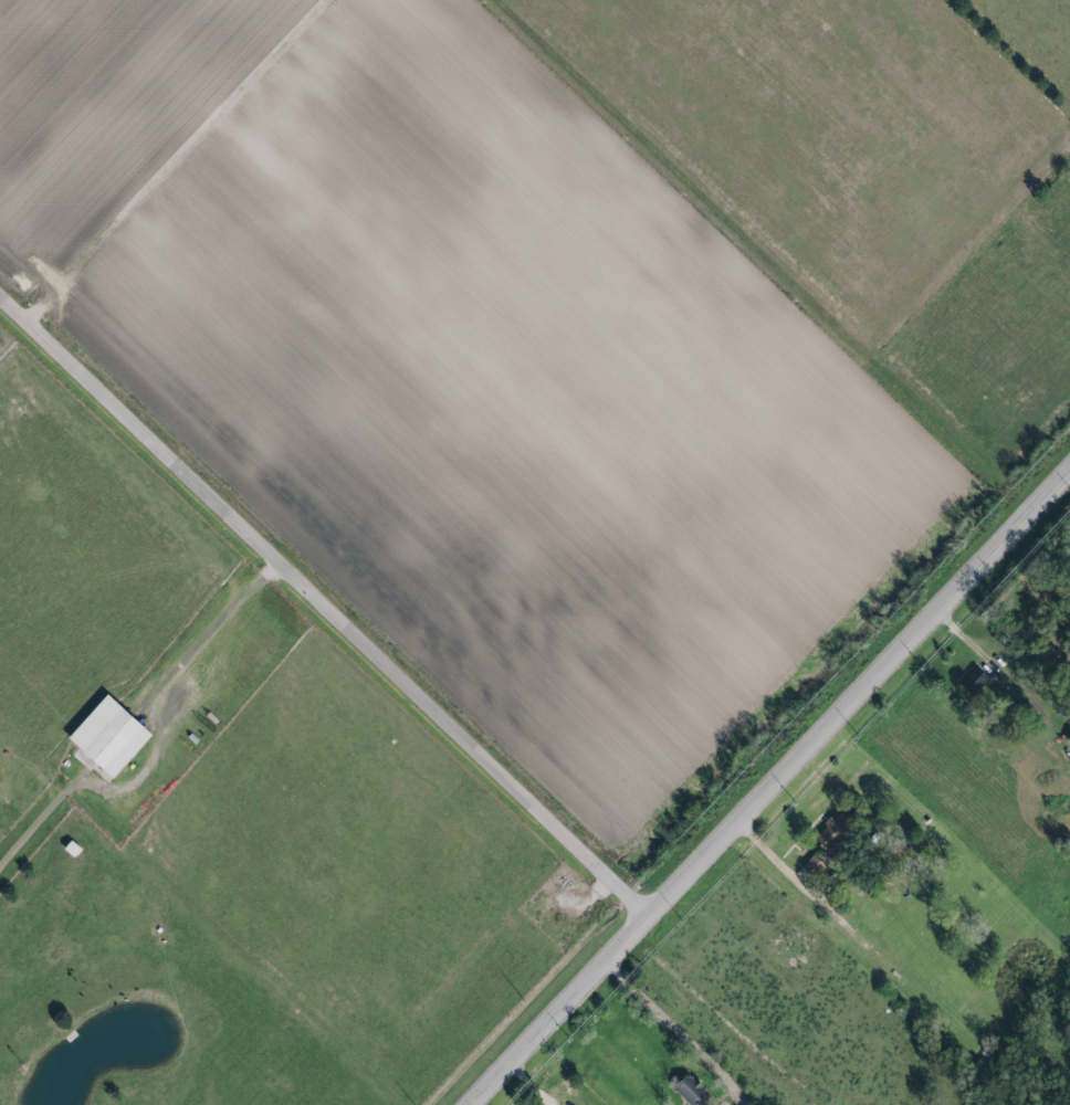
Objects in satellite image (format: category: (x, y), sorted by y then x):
road: (326, 603)
building: (971, 682)
building: (1068, 740)
building: (108, 743)
building: (104, 771)
road: (768, 783)
road: (40, 820)
building: (830, 830)
building: (809, 866)
road: (816, 881)
road: (684, 1019)
building: (686, 1090)

